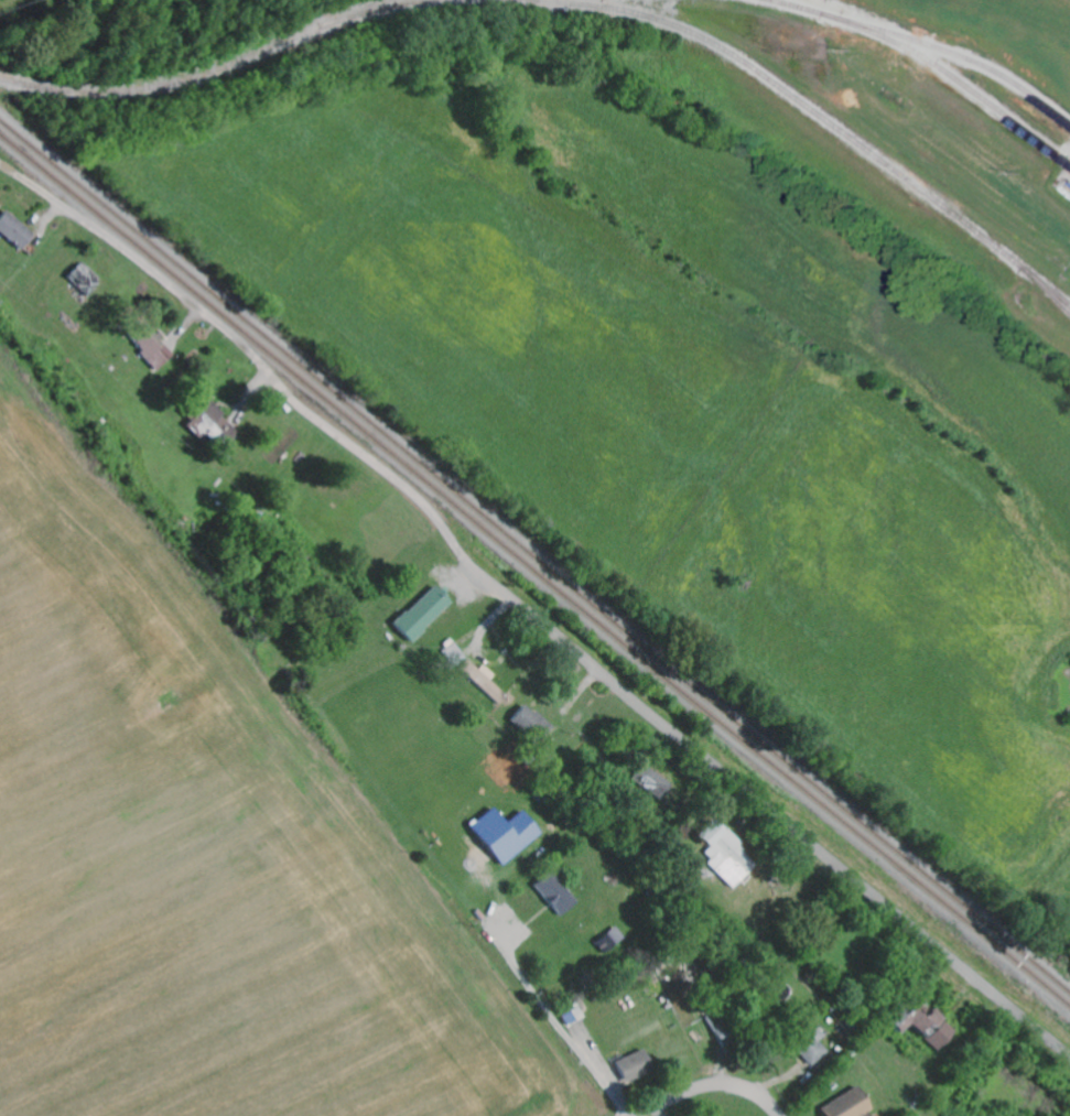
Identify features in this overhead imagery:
railway: (352, 13)
railway: (219, 68)
railway: (939, 69)
railway: (808, 109)
building: (14, 231)
railway: (1045, 284)
building: (155, 350)
building: (213, 426)
railway: (534, 556)
railway: (534, 572)
building: (424, 615)
road: (527, 615)
building: (484, 681)
building: (651, 782)
building: (507, 835)
building: (726, 855)
building: (556, 895)
building: (929, 1028)
building: (812, 1047)
building: (635, 1066)
road: (706, 1086)
building: (850, 1105)

